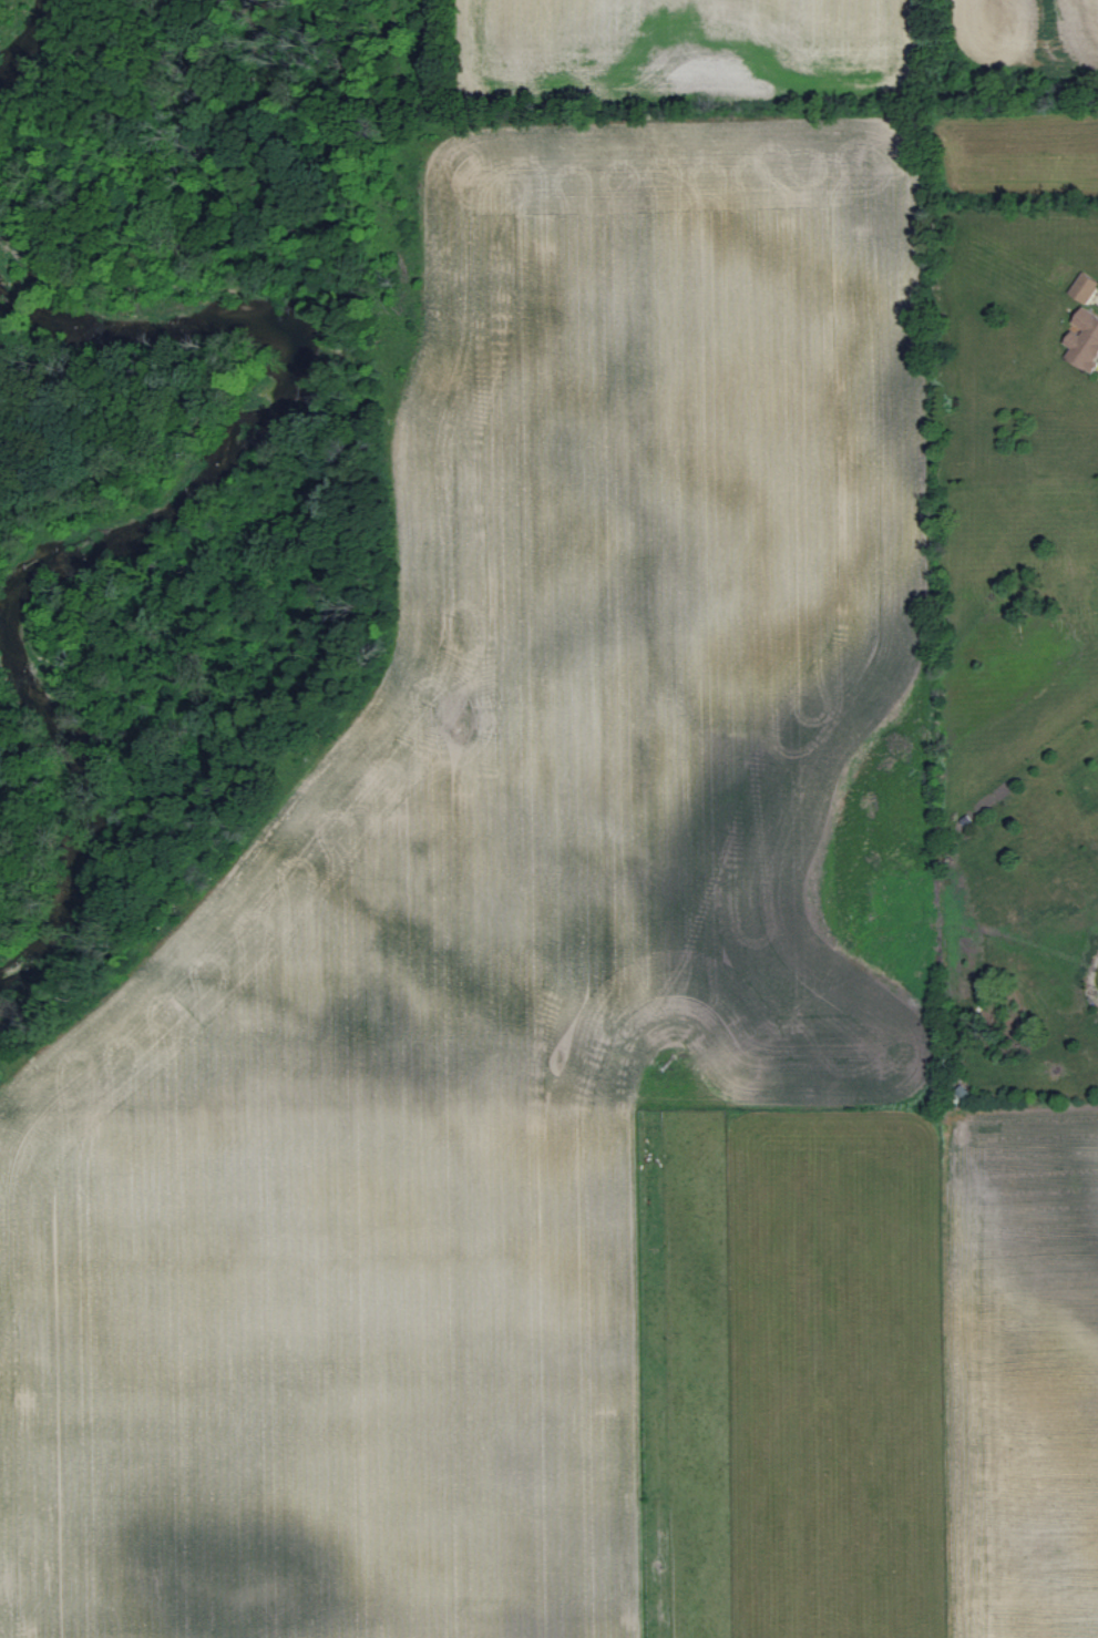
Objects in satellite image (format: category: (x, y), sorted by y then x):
building: (1085, 286)
building: (1085, 338)

